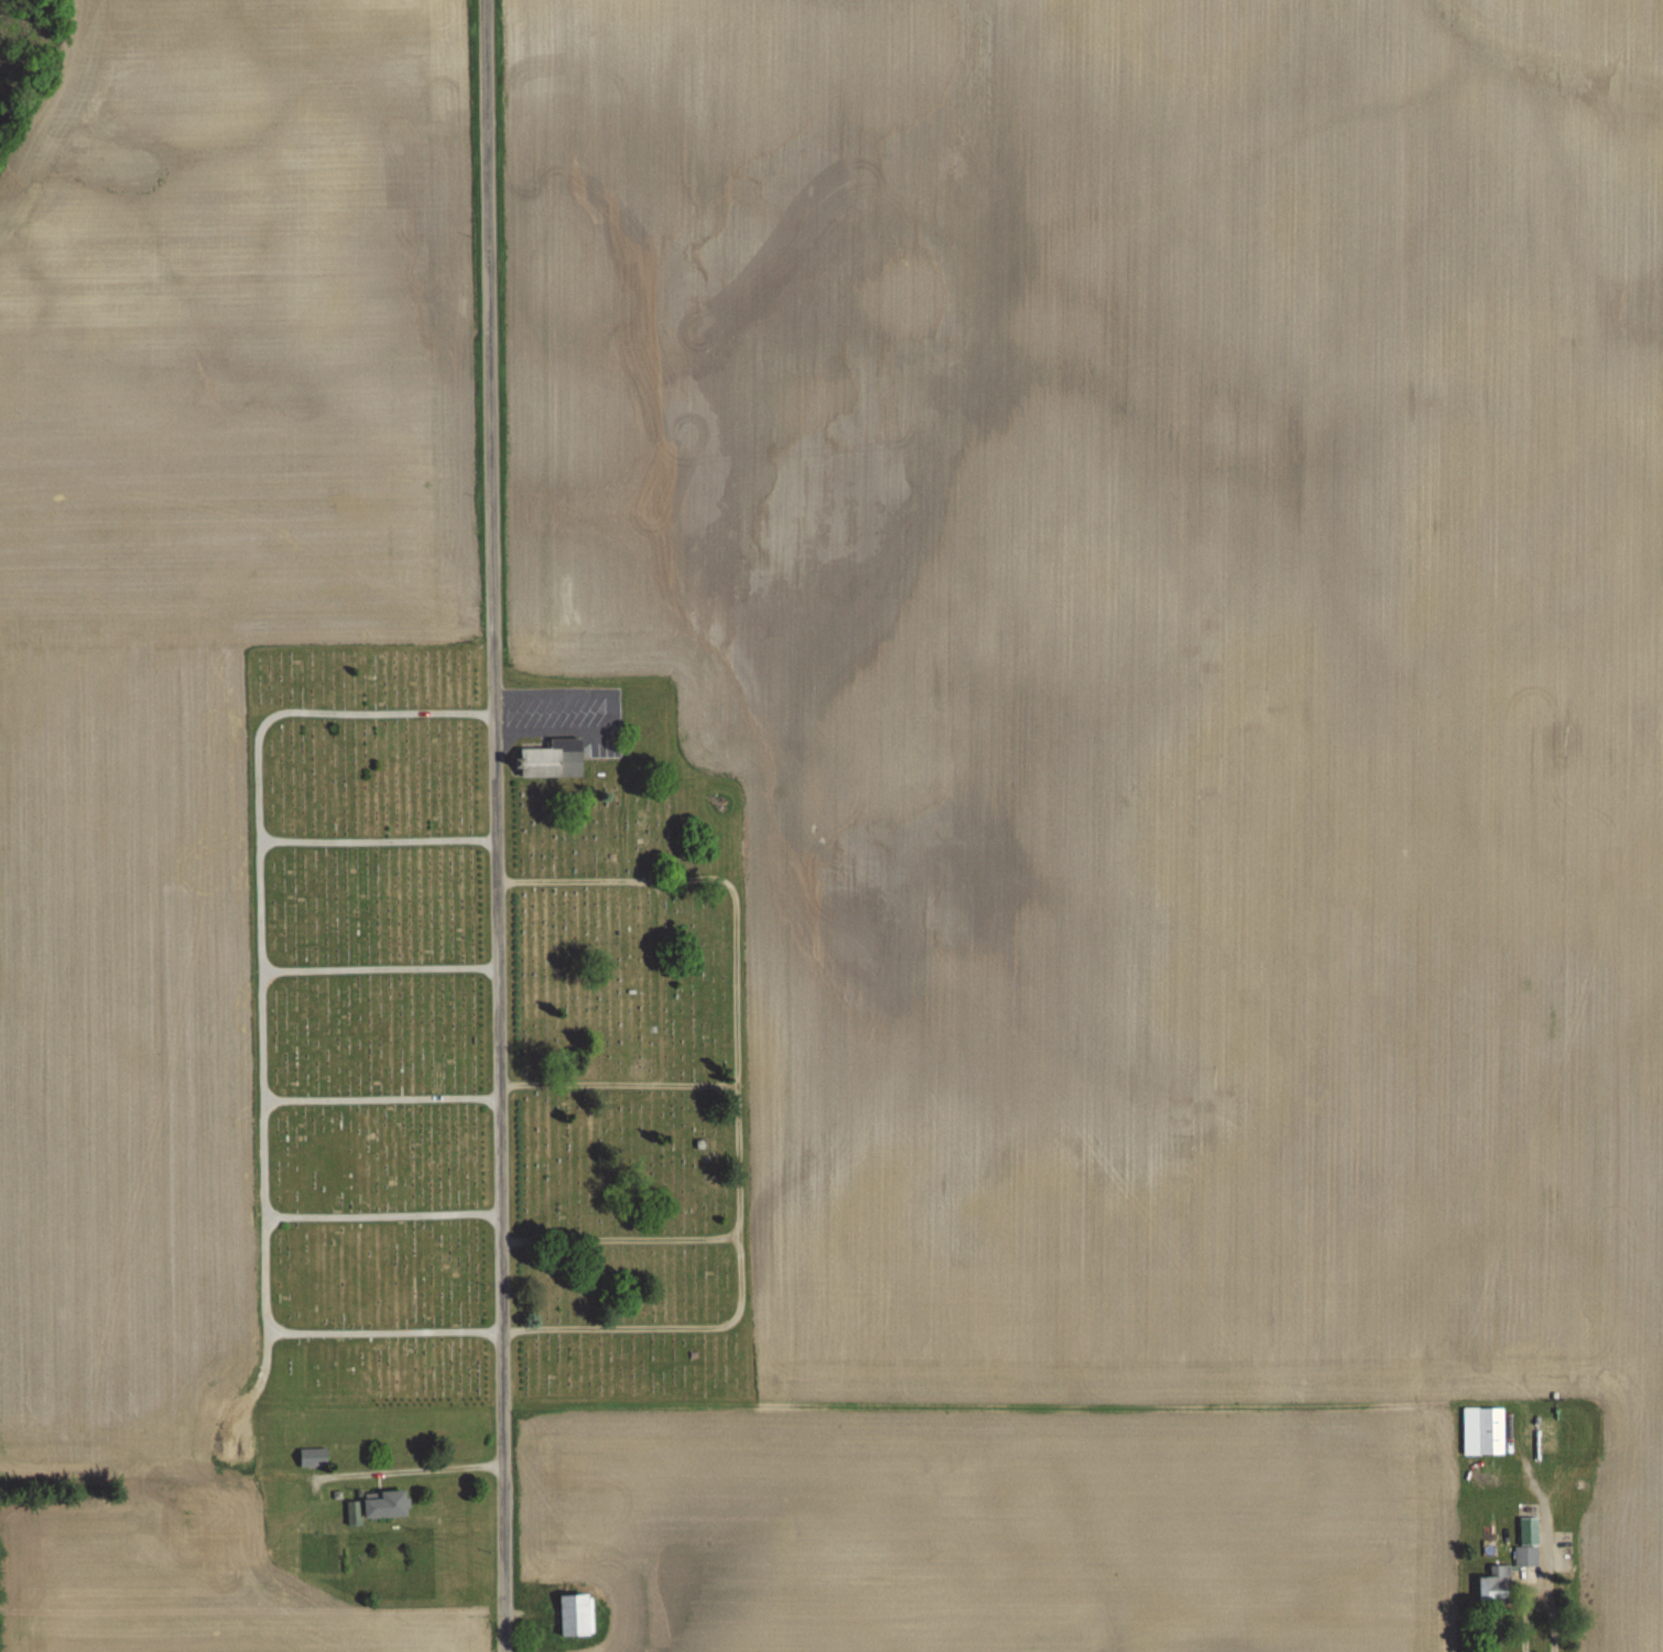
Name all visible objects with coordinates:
building: (24, 706)
road: (617, 708)
building: (552, 759)
road: (498, 825)
road: (380, 841)
road: (382, 969)
road: (267, 1021)
road: (620, 1084)
road: (383, 1098)
road: (742, 1104)
road: (385, 1214)
road: (622, 1239)
building: (1490, 1432)
building: (1574, 1434)
building: (314, 1458)
road: (412, 1472)
building: (385, 1506)
building: (354, 1514)
building: (1525, 1557)
building: (1496, 1586)
road: (1534, 1605)
building: (576, 1616)

